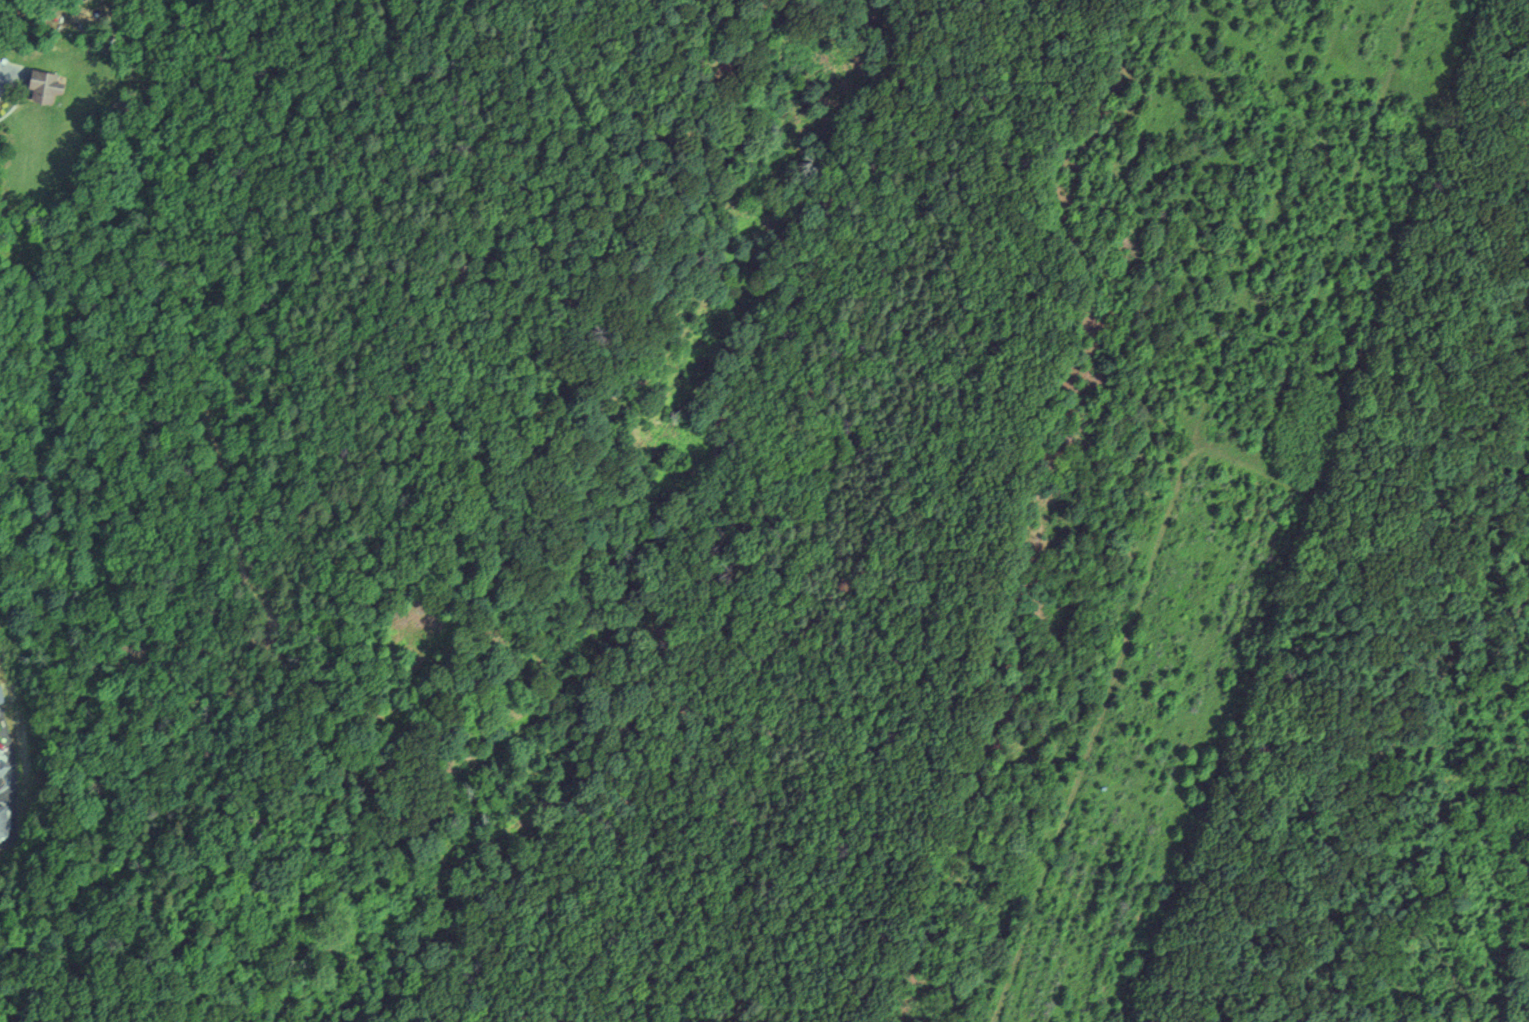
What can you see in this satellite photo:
road: (0, 70)
building: (46, 86)

